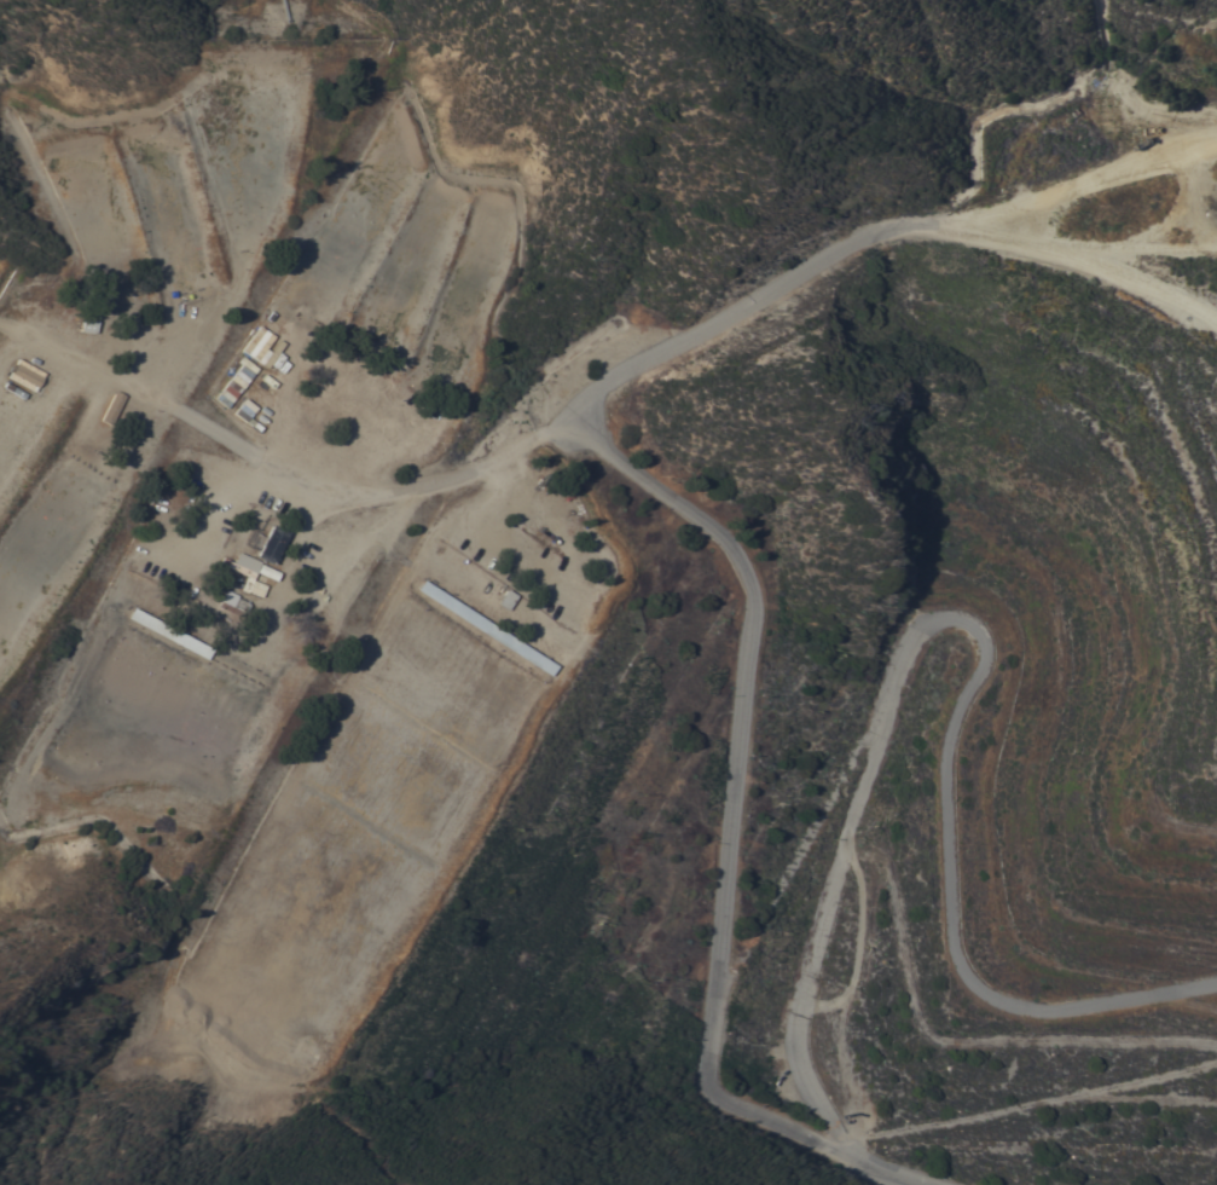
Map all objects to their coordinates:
road: (1113, 177)
road: (854, 238)
road: (1123, 258)
building: (87, 324)
building: (259, 345)
road: (69, 365)
building: (24, 374)
building: (233, 383)
building: (110, 405)
building: (244, 411)
road: (197, 427)
road: (408, 493)
building: (270, 543)
road: (509, 549)
building: (251, 586)
building: (505, 599)
road: (974, 622)
building: (485, 626)
building: (167, 630)
road: (729, 829)

